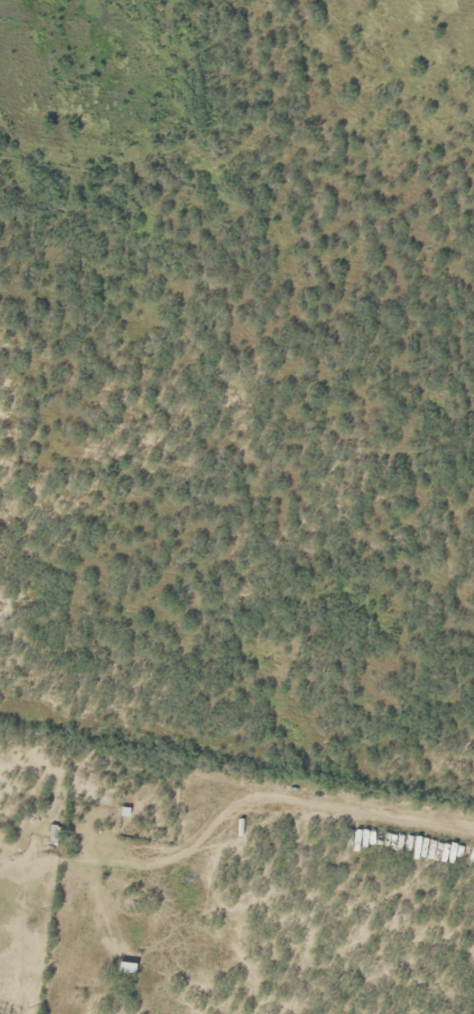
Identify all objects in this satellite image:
building: (46, 838)
building: (121, 967)

